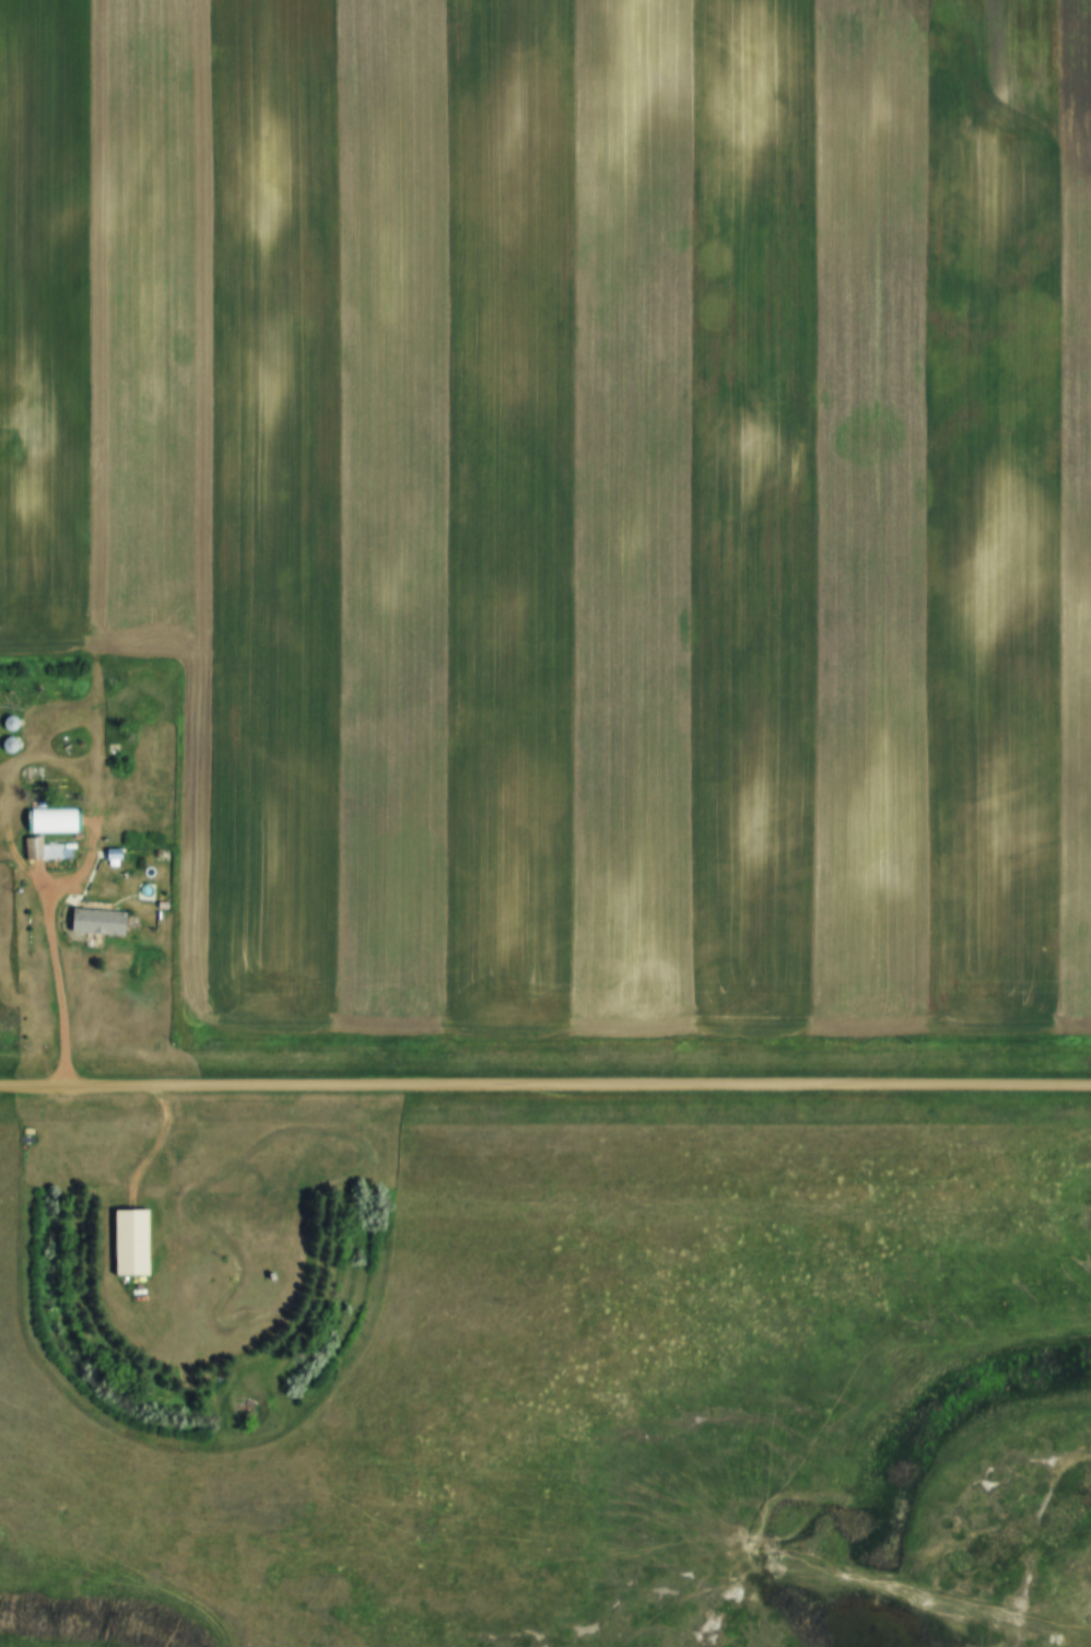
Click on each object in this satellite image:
building: (7, 722)
silo: (7, 722)
building: (5, 744)
silo: (5, 744)
road: (11, 815)
building: (52, 816)
building: (51, 850)
building: (108, 854)
building: (143, 893)
building: (93, 923)
road: (66, 970)
road: (544, 1087)
building: (127, 1242)
dam: (906, 1586)

